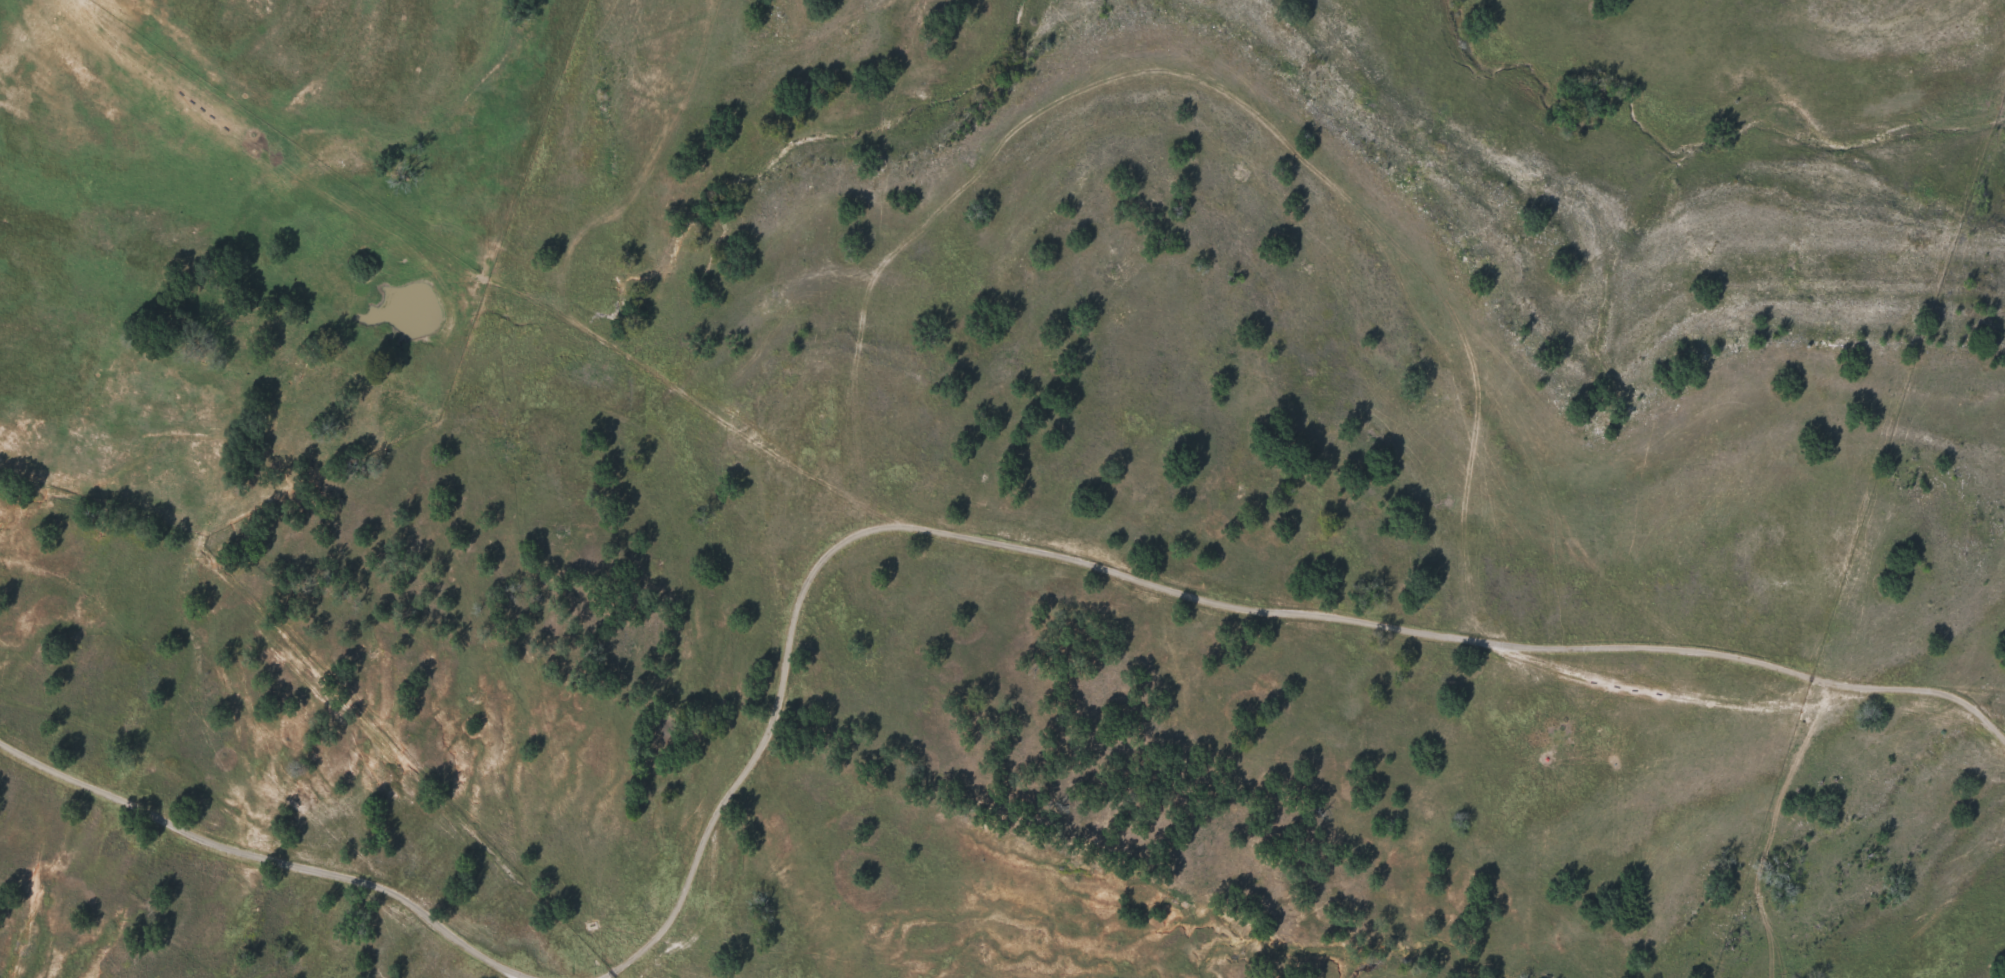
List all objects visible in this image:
road: (1171, 590)
road: (270, 858)

